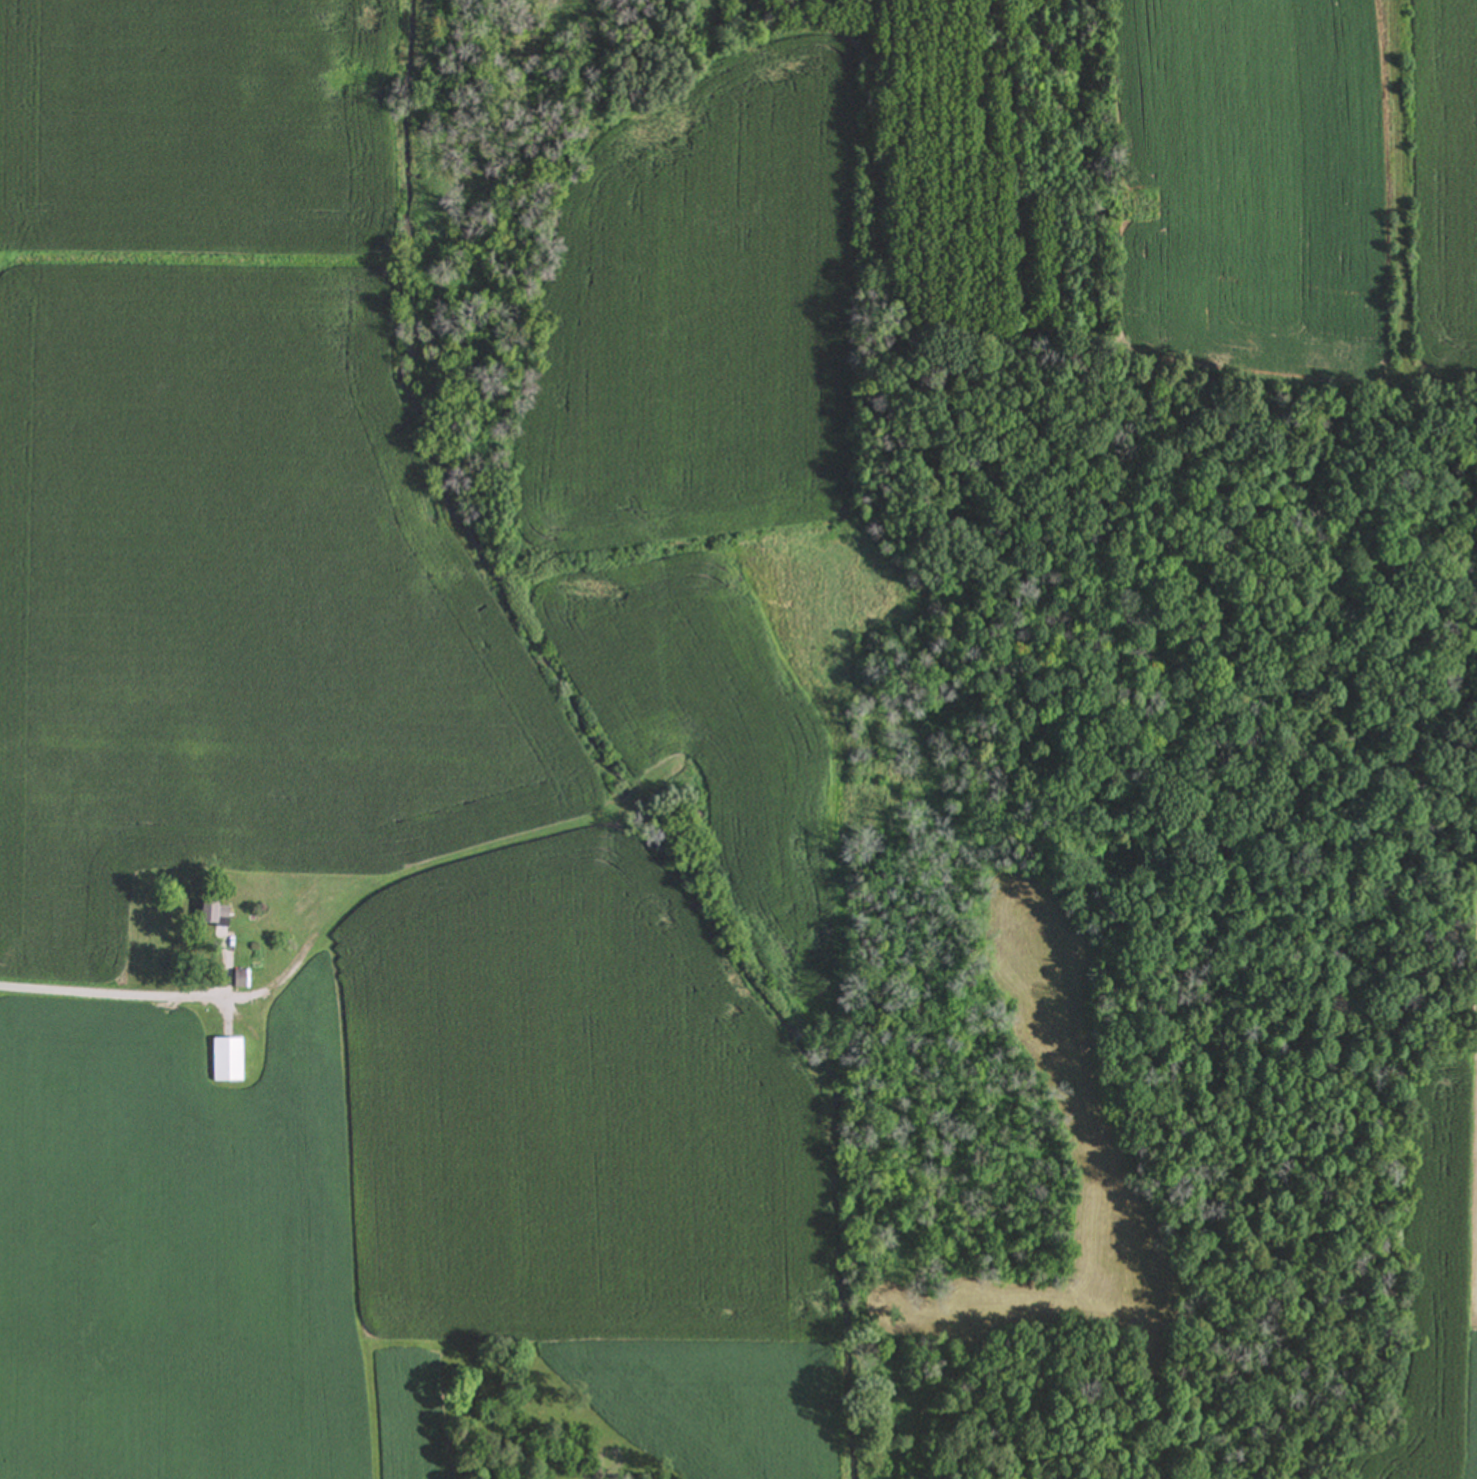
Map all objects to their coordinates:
building: (214, 917)
building: (241, 981)
road: (111, 999)
building: (228, 1062)

